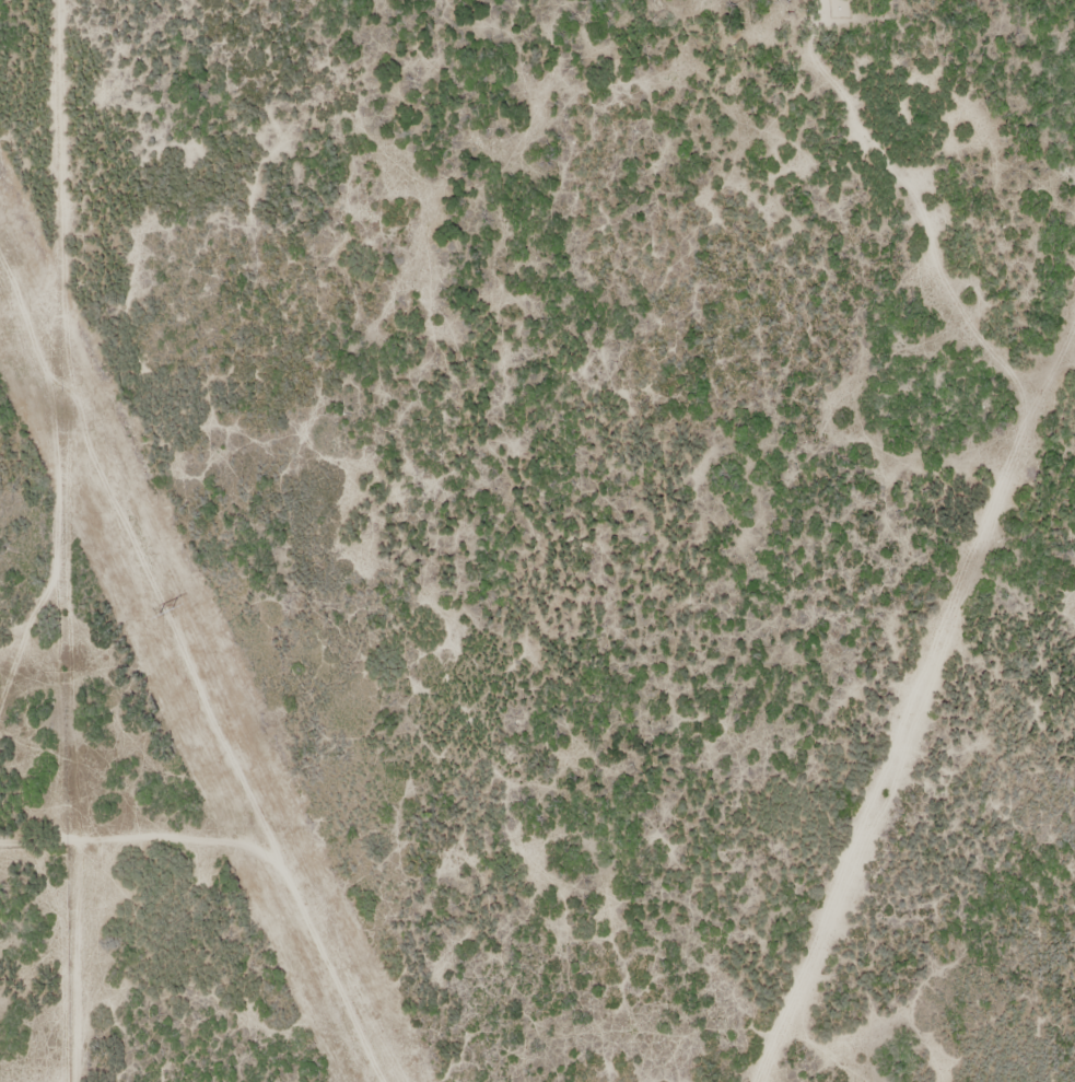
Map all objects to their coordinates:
power tower: (161, 613)
road: (208, 865)

